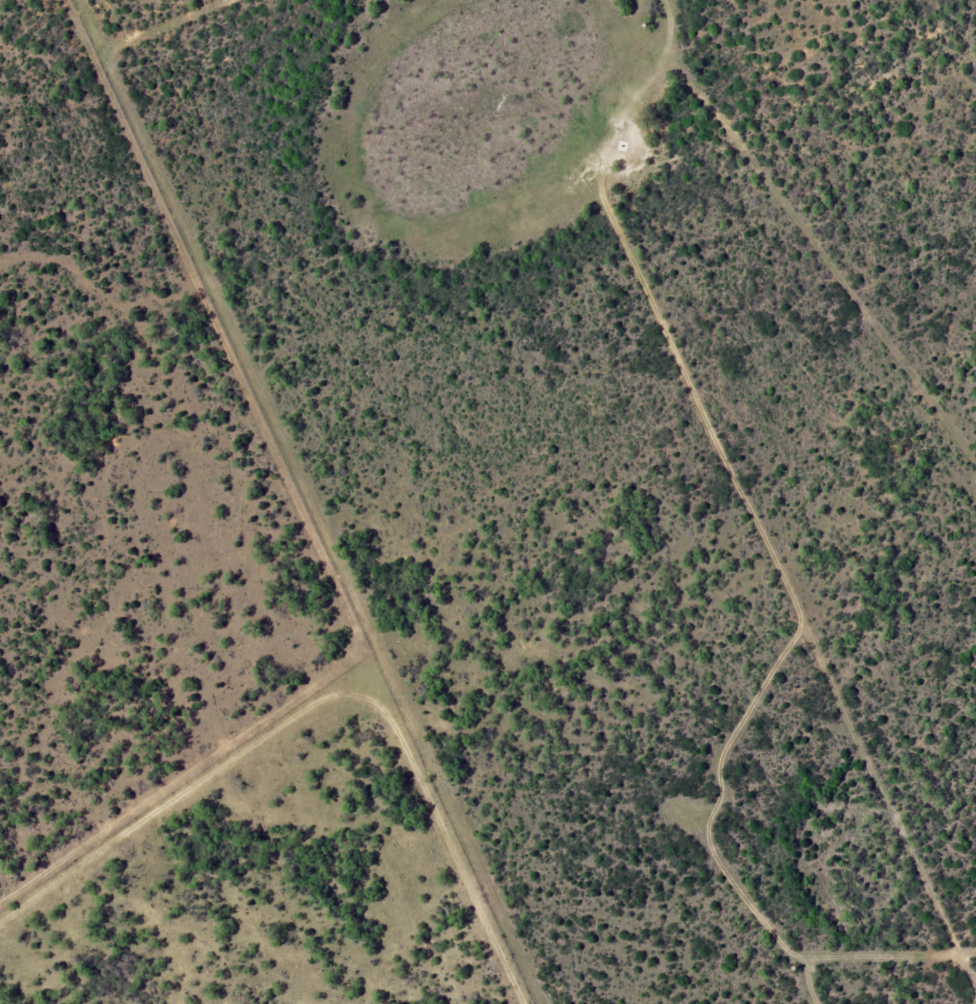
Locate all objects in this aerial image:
road: (319, 757)

